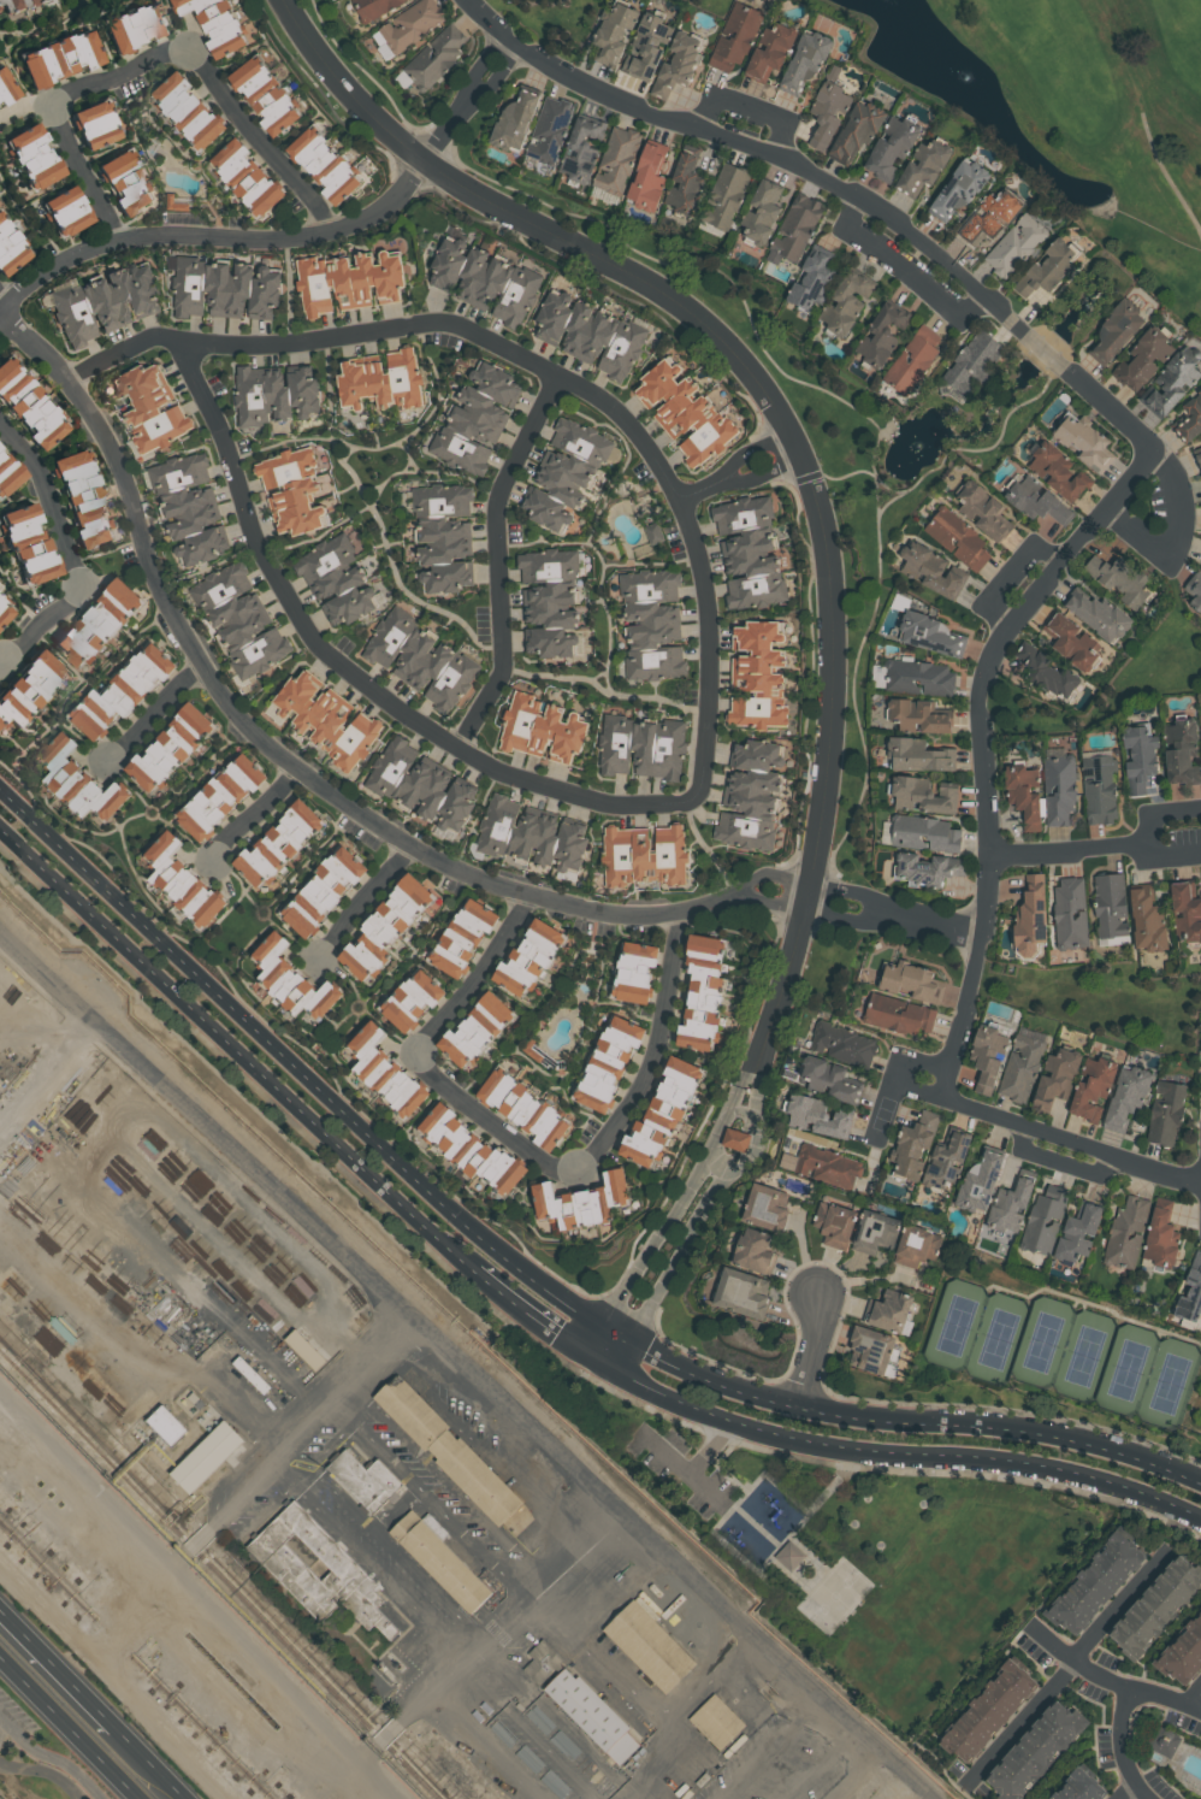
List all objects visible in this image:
building: (16, 4)
building: (375, 7)
building: (215, 23)
building: (412, 24)
road: (48, 28)
building: (137, 29)
building: (614, 31)
building: (736, 35)
building: (647, 46)
building: (771, 49)
building: (437, 55)
building: (63, 58)
building: (806, 60)
building: (678, 63)
road: (348, 85)
building: (6, 87)
building: (268, 94)
road: (472, 94)
road: (750, 106)
road: (51, 107)
park: (1067, 107)
building: (191, 110)
building: (829, 110)
building: (515, 118)
building: (99, 125)
road: (448, 128)
building: (550, 128)
building: (858, 130)
road: (264, 140)
building: (893, 144)
building: (582, 146)
building: (37, 157)
building: (617, 159)
building: (327, 165)
building: (924, 165)
building: (649, 176)
building: (249, 178)
building: (687, 179)
building: (129, 183)
building: (959, 188)
building: (727, 195)
building: (69, 211)
building: (763, 211)
building: (988, 218)
building: (795, 226)
road: (214, 236)
road: (47, 240)
building: (1014, 244)
building: (11, 247)
building: (1048, 269)
road: (901, 272)
building: (814, 277)
building: (487, 278)
building: (350, 279)
building: (224, 287)
building: (103, 302)
building: (848, 302)
road: (2, 305)
building: (1117, 329)
building: (592, 332)
building: (883, 332)
building: (913, 359)
building: (1143, 359)
building: (974, 360)
road: (545, 366)
building: (1024, 374)
building: (1173, 379)
building: (383, 381)
building: (276, 393)
building: (28, 407)
building: (150, 408)
road: (1110, 408)
building: (686, 412)
building: (478, 417)
building: (1189, 419)
road: (788, 429)
building: (1085, 438)
road: (751, 449)
building: (1197, 458)
building: (1059, 468)
building: (567, 471)
road: (765, 473)
building: (7, 477)
building: (292, 489)
road: (705, 490)
road: (53, 500)
building: (87, 500)
building: (1037, 500)
building: (190, 505)
building: (984, 508)
building: (655, 531)
building: (444, 535)
building: (959, 537)
road: (1185, 539)
building: (29, 544)
building: (747, 552)
road: (499, 559)
building: (931, 567)
road: (1008, 571)
building: (1122, 579)
building: (335, 580)
building: (1195, 589)
building: (551, 598)
building: (5, 608)
building: (1096, 615)
building: (237, 620)
building: (650, 624)
road: (45, 625)
building: (96, 625)
building: (928, 635)
building: (1071, 641)
building: (420, 660)
road: (1, 661)
road: (356, 674)
building: (1048, 674)
building: (757, 677)
building: (913, 677)
building: (26, 690)
building: (120, 691)
road: (158, 713)
building: (919, 716)
building: (323, 719)
building: (1200, 725)
building: (539, 729)
road: (276, 743)
building: (640, 745)
building: (168, 749)
building: (1181, 753)
building: (918, 755)
building: (1140, 756)
building: (418, 785)
building: (78, 786)
building: (1099, 789)
building: (1058, 790)
building: (923, 795)
building: (1023, 795)
building: (220, 796)
building: (749, 796)
road: (1171, 808)
road: (255, 813)
building: (923, 833)
building: (531, 834)
building: (276, 847)
road: (1077, 847)
road: (1160, 854)
road: (1193, 854)
building: (641, 855)
building: (927, 869)
road: (769, 872)
building: (178, 881)
road: (852, 890)
building: (321, 891)
road: (799, 893)
road: (366, 902)
road: (769, 902)
building: (1110, 906)
building: (1185, 909)
building: (1069, 914)
building: (1028, 918)
road: (846, 919)
building: (1147, 919)
road: (939, 925)
building: (384, 926)
building: (462, 937)
building: (526, 959)
building: (632, 971)
road: (480, 979)
building: (289, 981)
building: (911, 981)
road: (780, 984)
building: (700, 995)
building: (410, 1002)
building: (898, 1014)
building: (474, 1031)
building: (844, 1045)
road: (237, 1050)
road: (655, 1051)
building: (986, 1056)
building: (607, 1062)
building: (1019, 1068)
road: (894, 1072)
building: (381, 1073)
building: (1053, 1080)
building: (830, 1081)
building: (1091, 1086)
road: (915, 1090)
building: (1126, 1096)
building: (522, 1109)
building: (1164, 1111)
building: (659, 1115)
building: (815, 1116)
road: (492, 1120)
building: (735, 1139)
road: (1069, 1139)
building: (912, 1144)
building: (466, 1148)
building: (945, 1160)
building: (826, 1166)
building: (977, 1182)
building: (581, 1203)
building: (1010, 1204)
road: (676, 1207)
building: (764, 1207)
road: (699, 1214)
building: (1043, 1220)
building: (833, 1223)
building: (874, 1233)
building: (1125, 1233)
building: (1076, 1234)
building: (1161, 1237)
building: (916, 1246)
building: (752, 1251)
road: (526, 1274)
building: (740, 1292)
building: (1190, 1292)
building: (888, 1311)
road: (543, 1323)
building: (310, 1349)
road: (816, 1350)
building: (869, 1350)
road: (469, 1367)
building: (238, 1370)
building: (259, 1374)
road: (312, 1417)
building: (174, 1423)
building: (455, 1449)
road: (904, 1452)
building: (217, 1456)
road: (446, 1479)
building: (372, 1481)
road: (428, 1496)
road: (398, 1510)
road: (264, 1511)
road: (383, 1539)
road: (191, 1543)
park: (853, 1549)
building: (789, 1556)
building: (445, 1562)
building: (324, 1568)
road: (378, 1568)
building: (1093, 1585)
road: (200, 1593)
road: (1124, 1605)
building: (1153, 1609)
road: (135, 1611)
road: (510, 1611)
building: (132, 1618)
building: (653, 1646)
building: (200, 1648)
building: (1181, 1652)
road: (60, 1663)
road: (117, 1679)
road: (1110, 1680)
road: (1196, 1698)
building: (984, 1714)
parking lot: (14, 1721)
building: (720, 1722)
road: (1024, 1724)
road: (70, 1727)
building: (570, 1730)
road: (381, 1738)
building: (1161, 1741)
road: (1125, 1746)
building: (1036, 1751)
road: (53, 1756)
road: (156, 1762)
road: (852, 1770)
road: (45, 1771)
building: (1076, 1787)
road: (1130, 1791)

